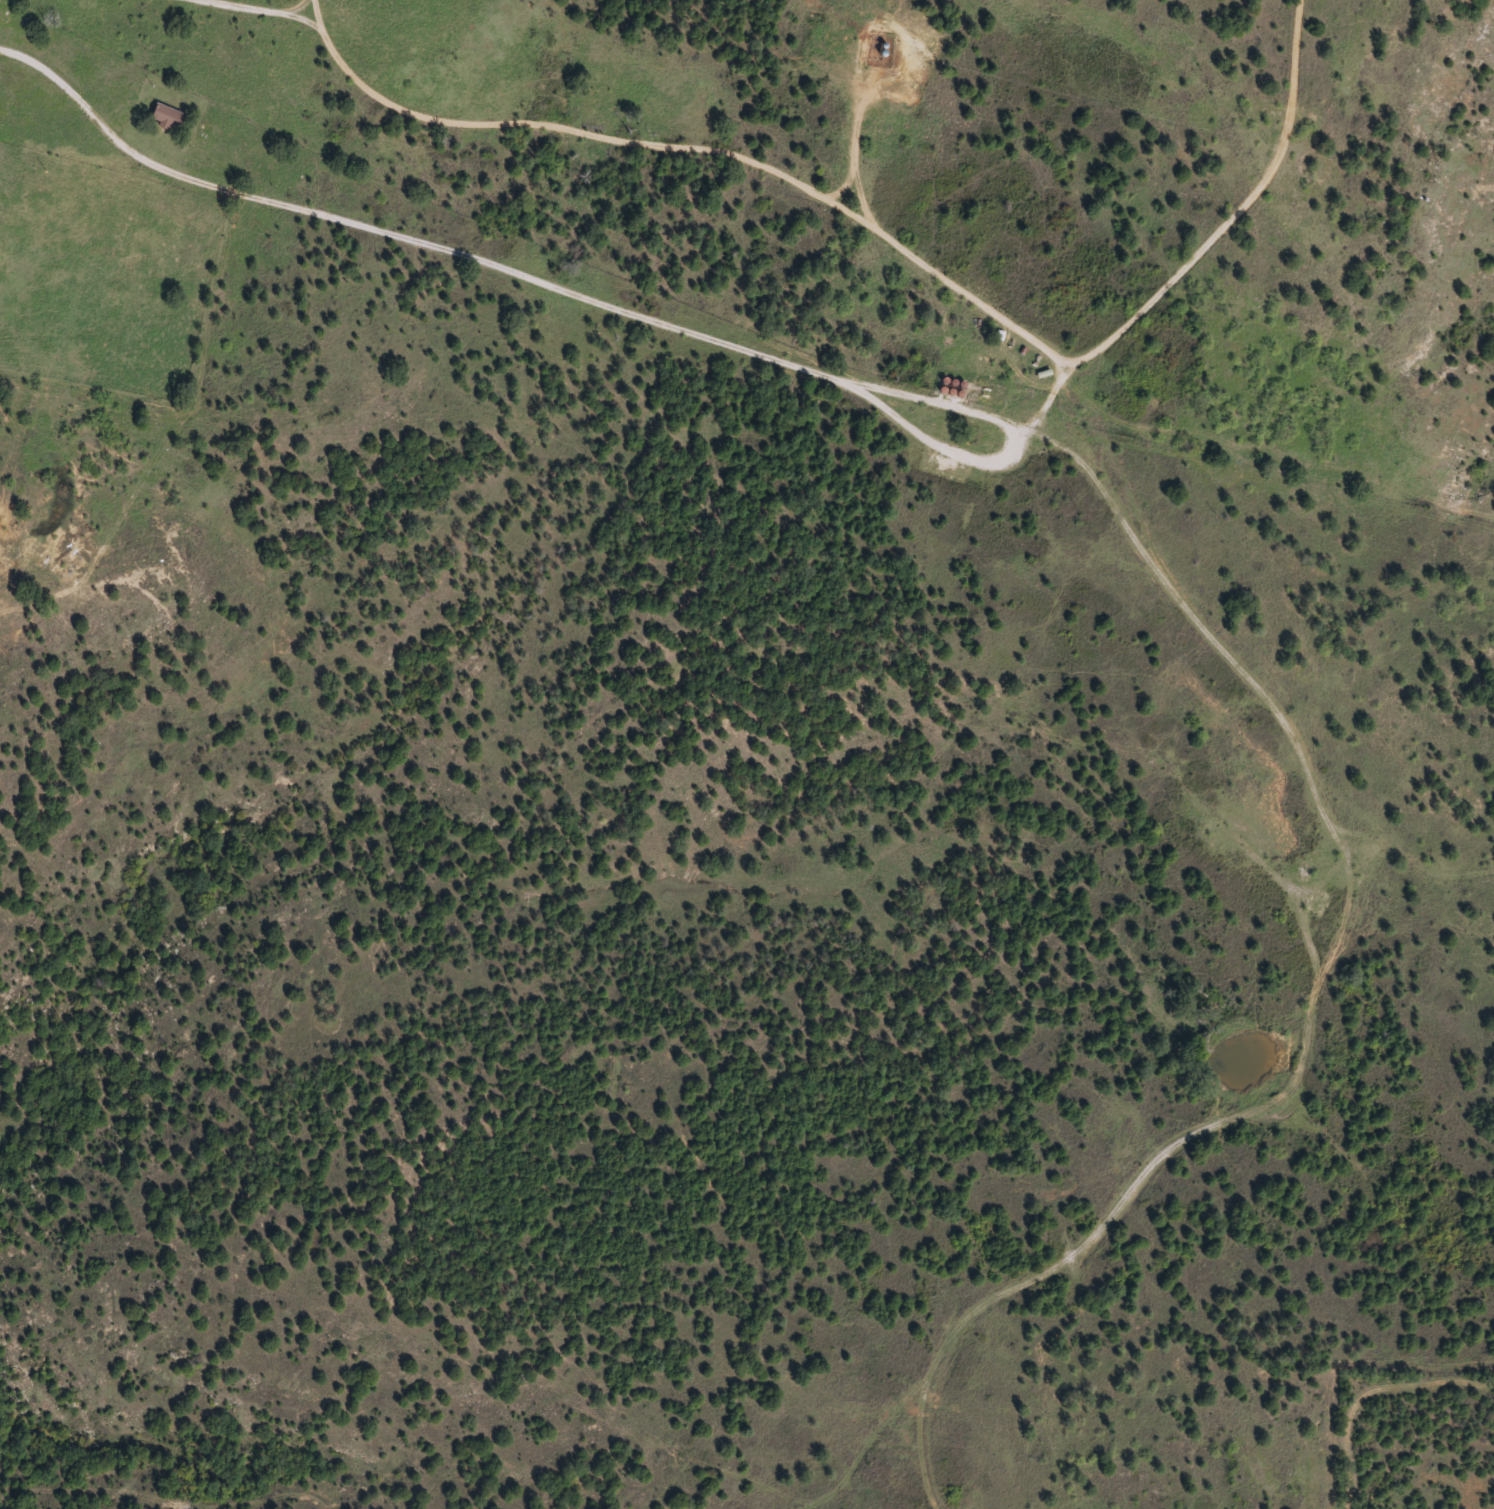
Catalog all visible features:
building: (167, 117)

